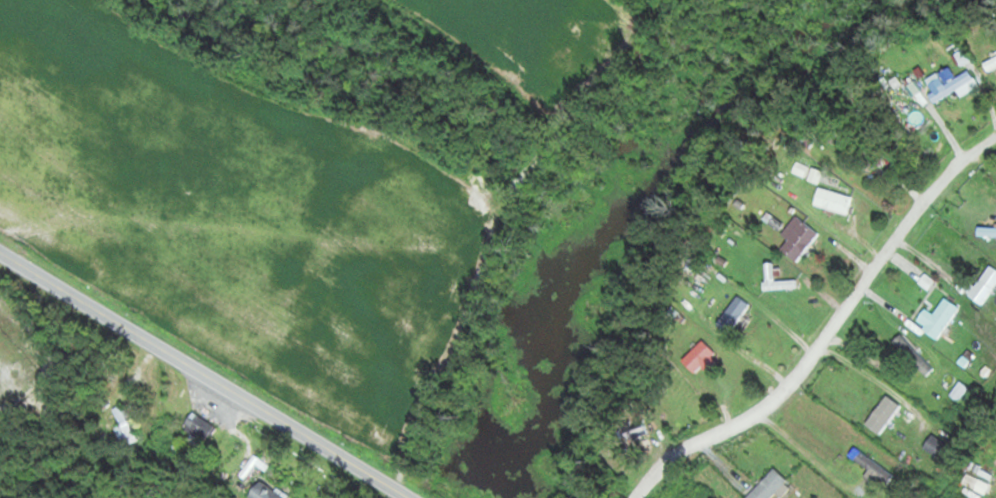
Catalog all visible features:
building: (994, 59)
building: (952, 82)
building: (834, 198)
building: (987, 230)
building: (802, 240)
building: (984, 284)
building: (734, 313)
building: (939, 316)
road: (827, 332)
building: (894, 348)
building: (701, 354)
road: (207, 373)
building: (884, 413)
building: (124, 425)
building: (201, 425)
building: (938, 445)
building: (871, 463)
building: (770, 485)
building: (269, 491)

